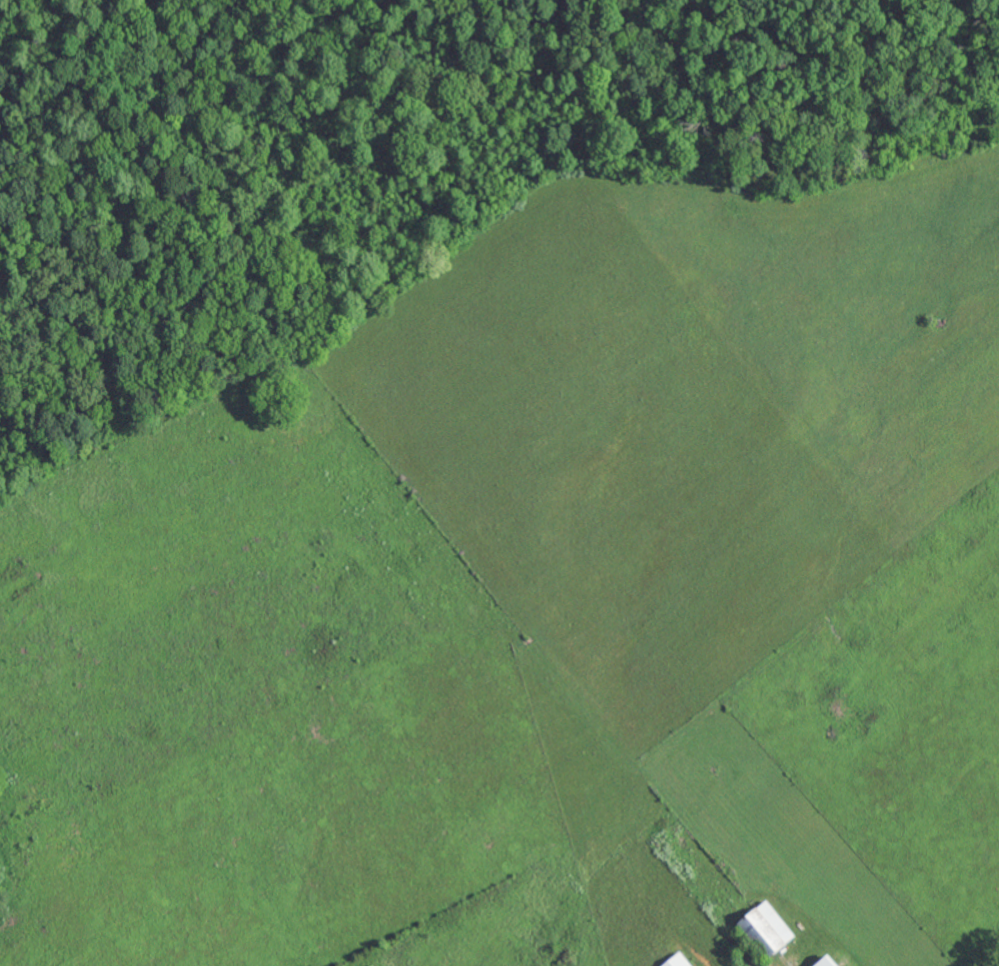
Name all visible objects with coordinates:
building: (764, 928)
building: (676, 960)
building: (823, 961)

